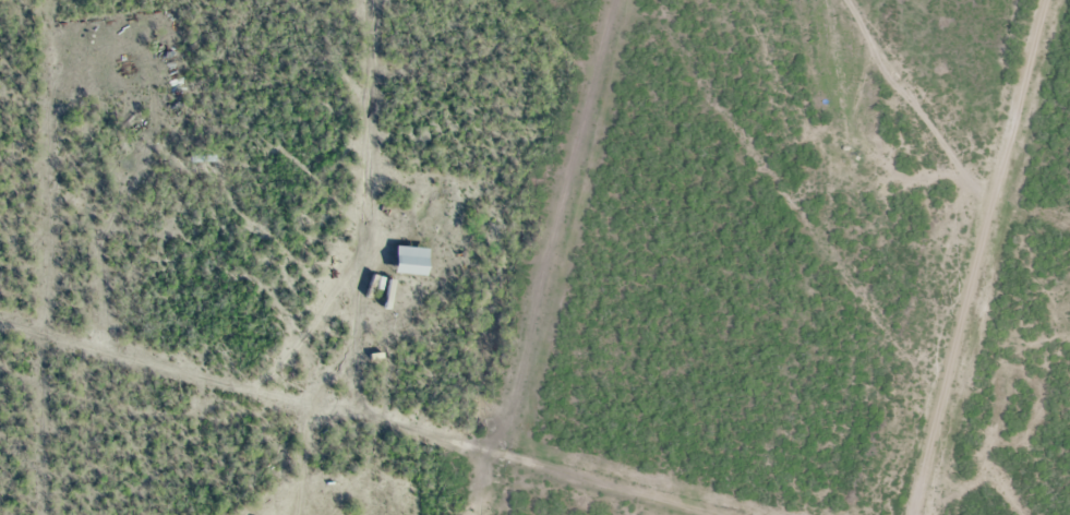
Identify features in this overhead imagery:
building: (409, 256)
road: (1007, 280)

